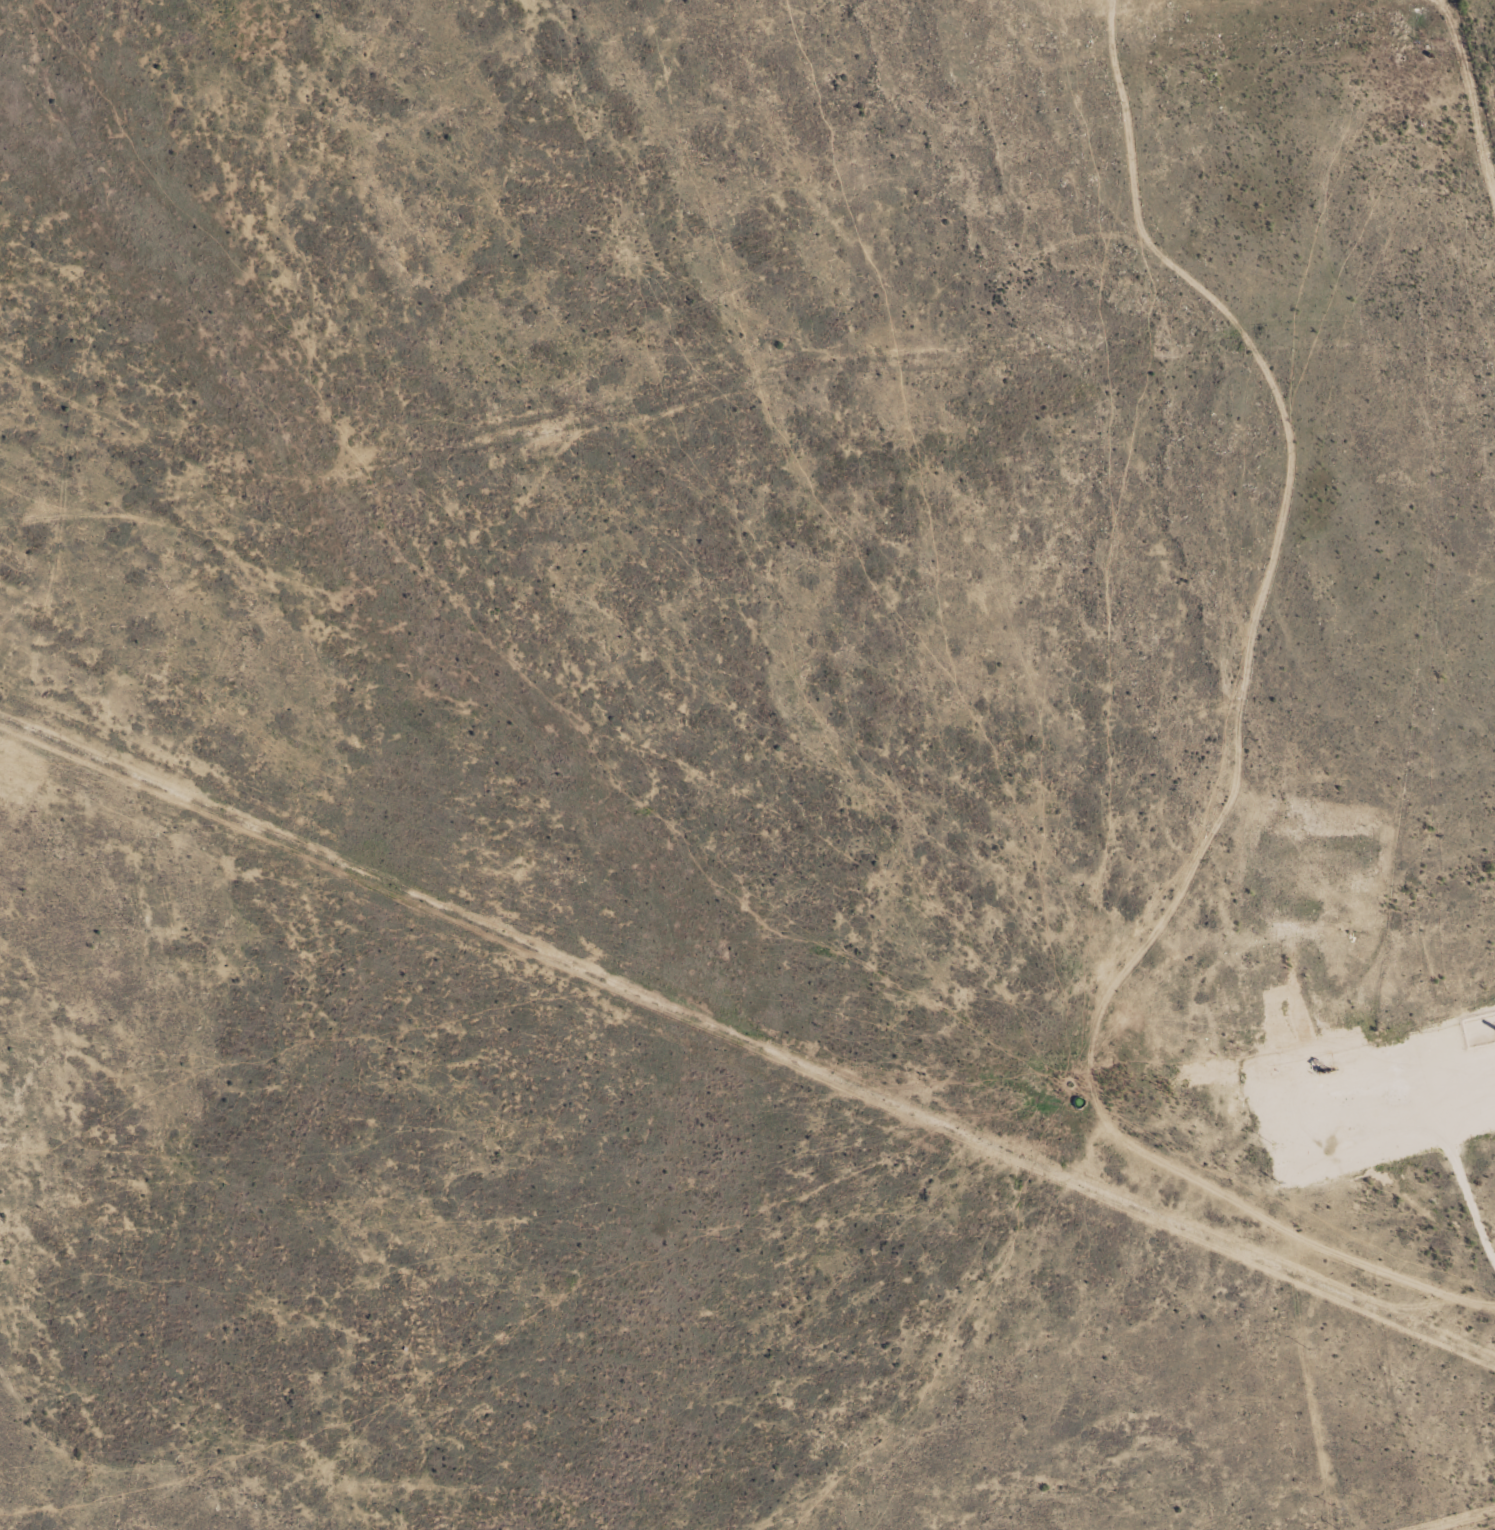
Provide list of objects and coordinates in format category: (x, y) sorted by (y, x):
road: (1381, 64)
road: (511, 86)
road: (1431, 745)

